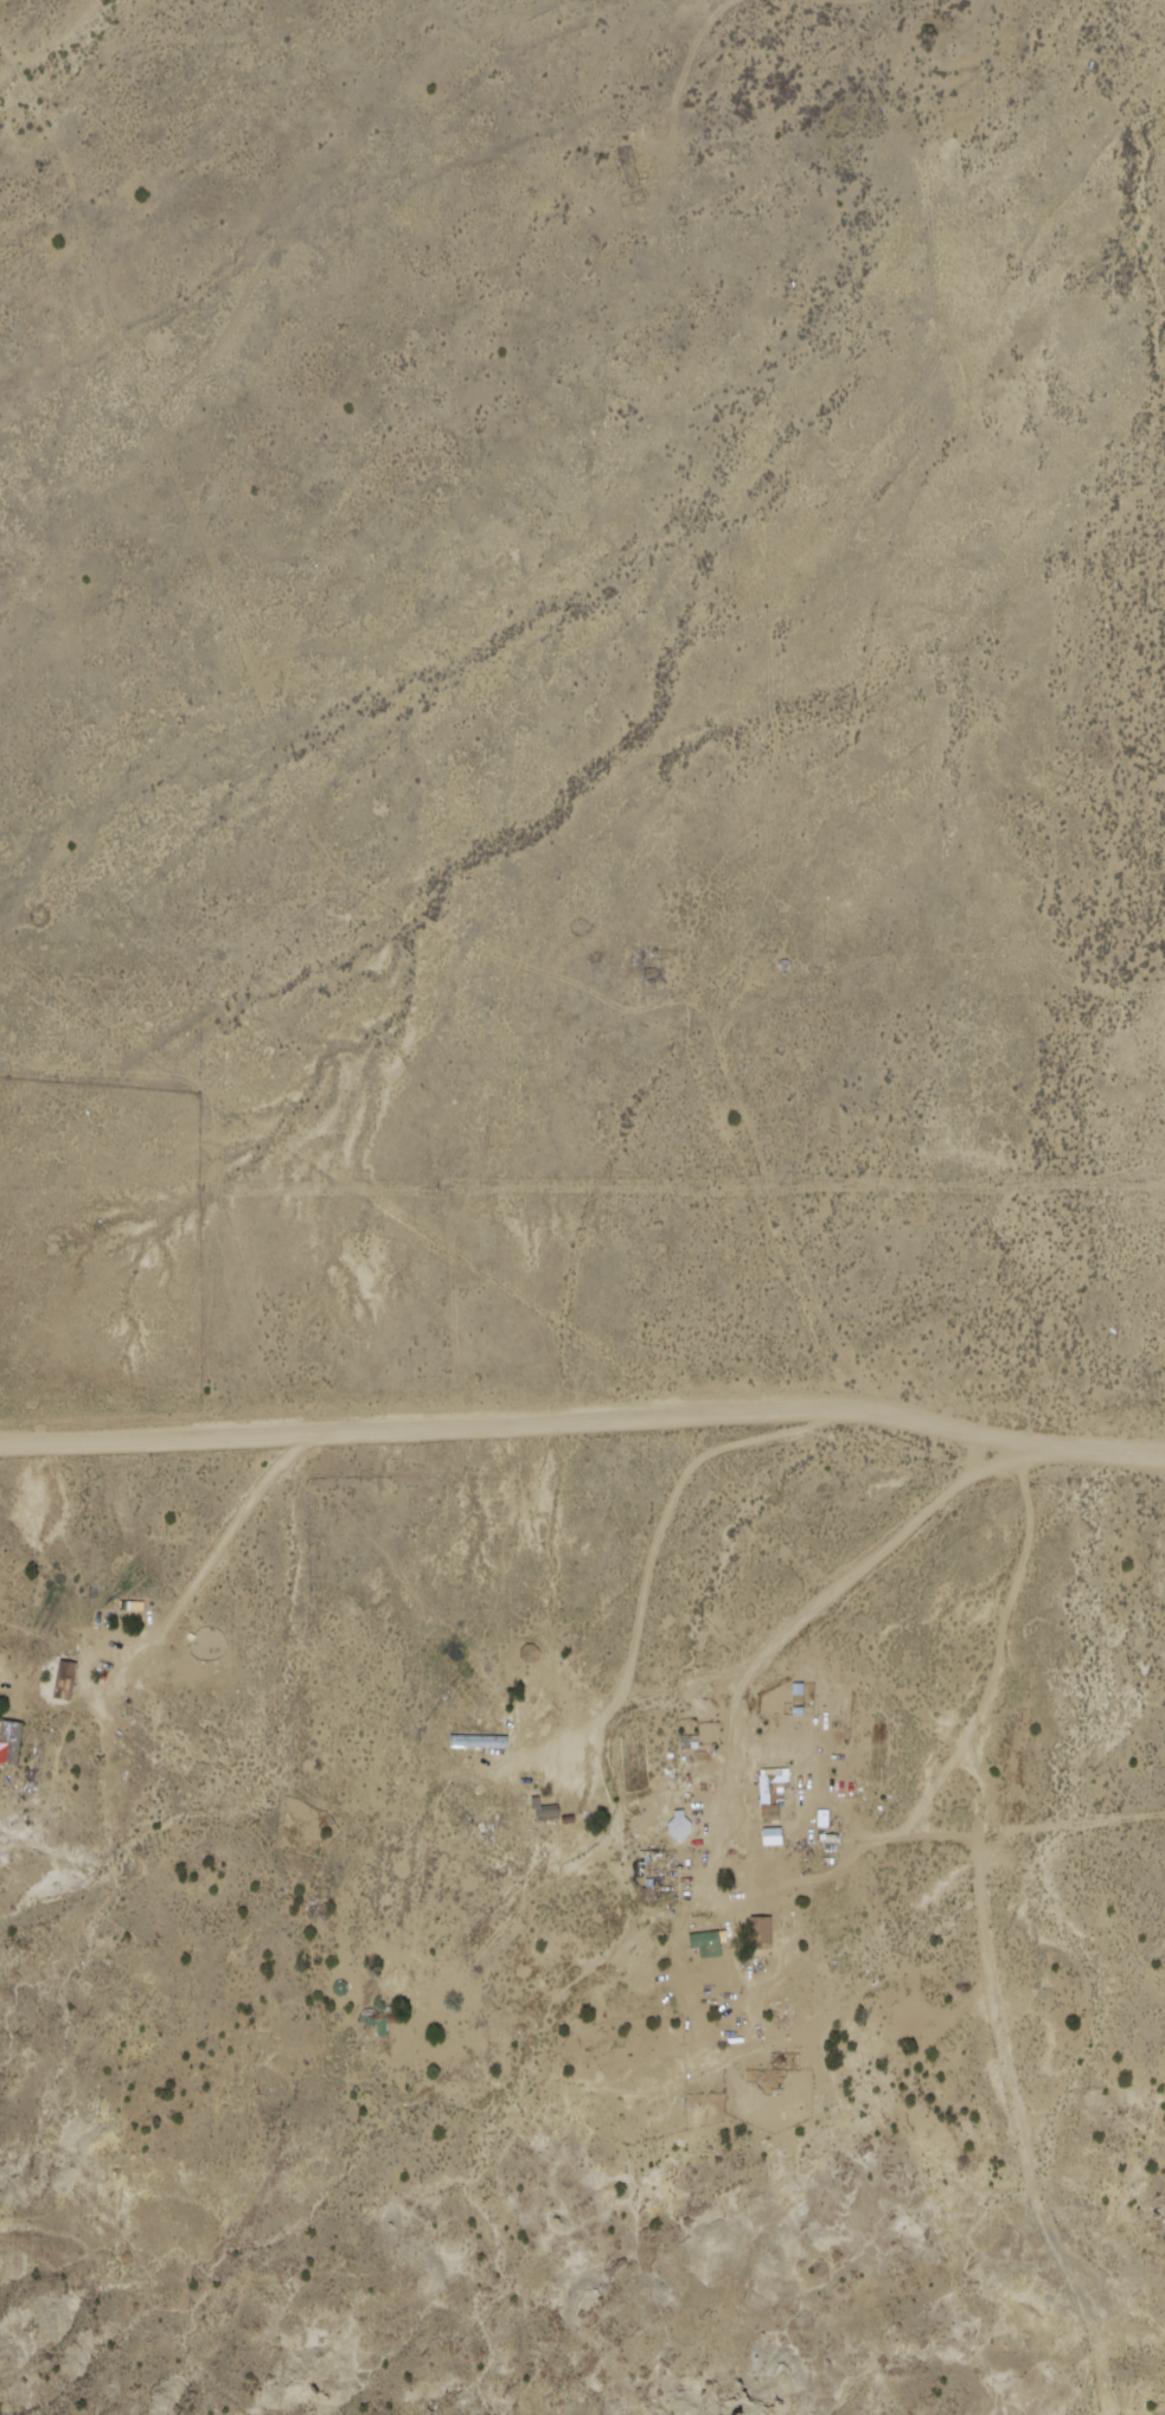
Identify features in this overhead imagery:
road: (584, 1423)
road: (896, 1537)
building: (756, 1794)
building: (680, 1826)
road: (1010, 1833)
road: (986, 1939)
building: (700, 1947)

